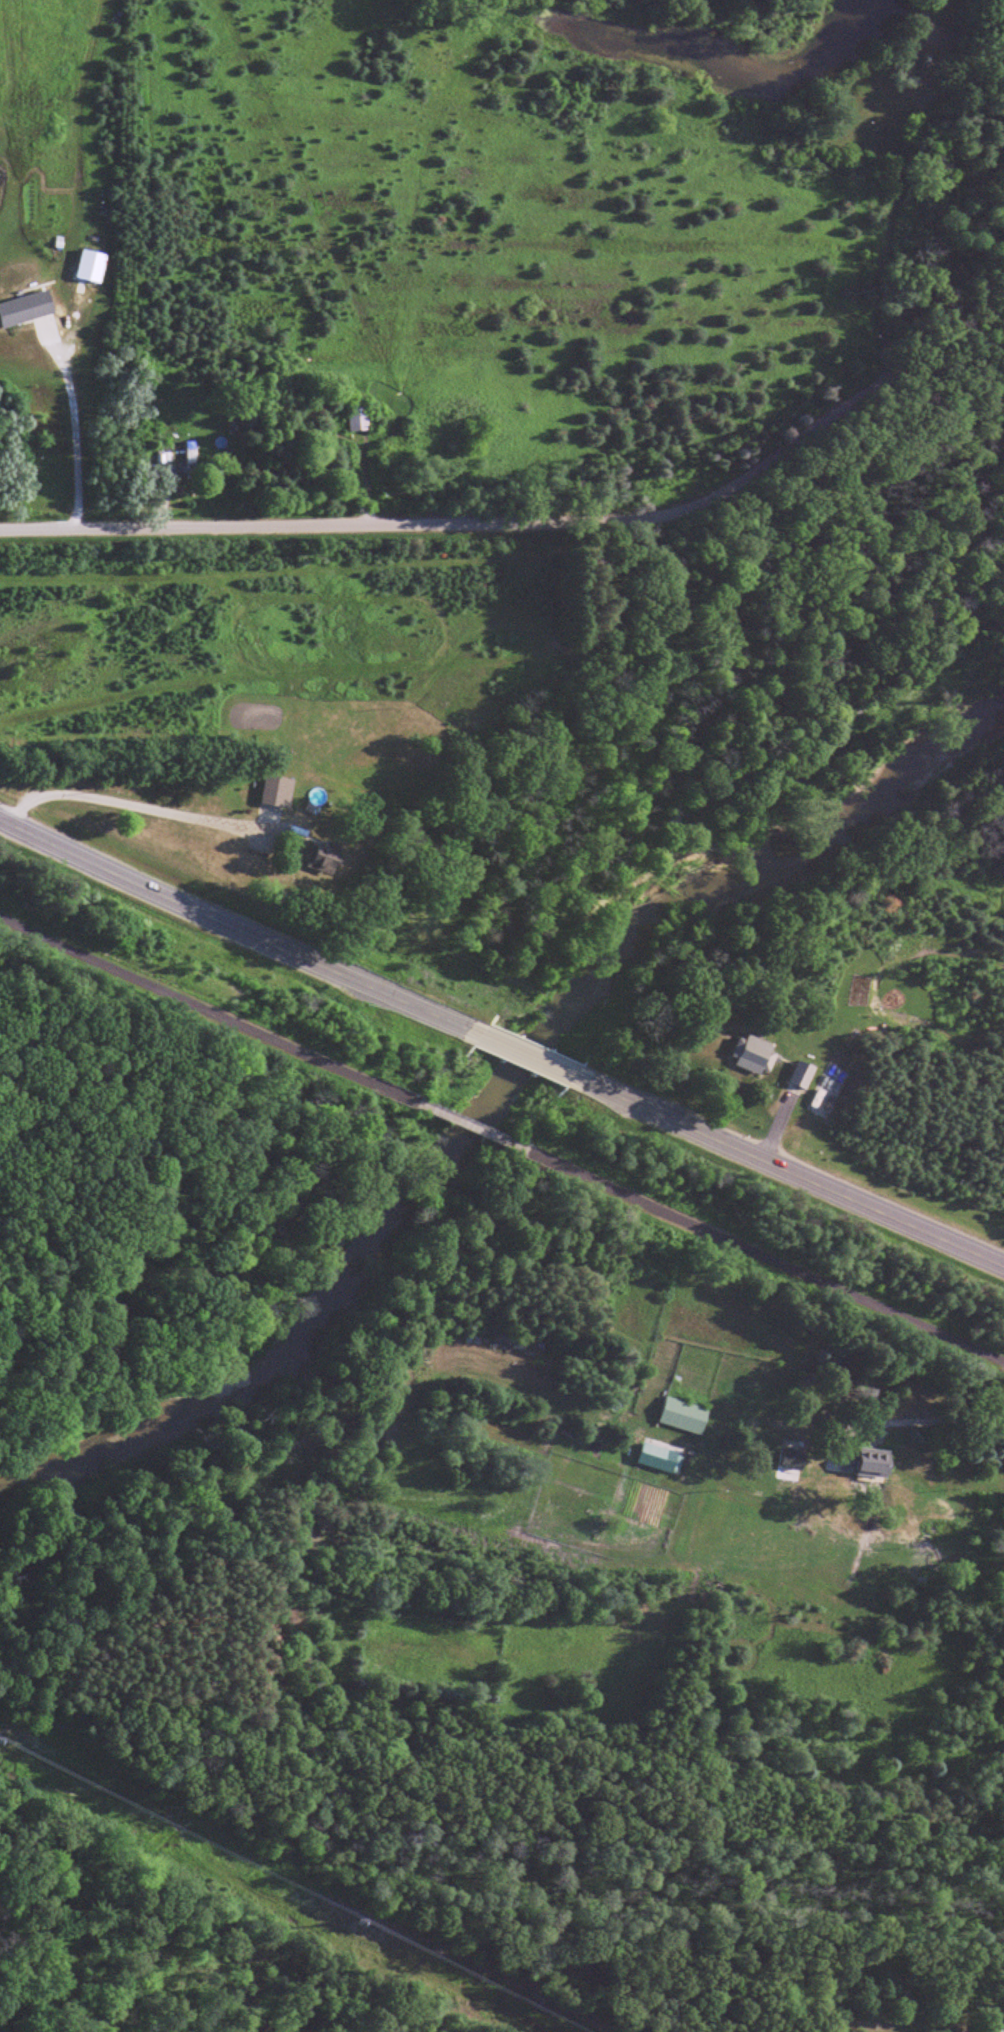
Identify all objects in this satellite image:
building: (358, 421)
building: (191, 461)
road: (499, 525)
building: (279, 791)
building: (329, 858)
road: (240, 927)
road: (207, 1013)
building: (755, 1055)
road: (534, 1060)
building: (803, 1076)
river: (505, 1106)
road: (472, 1126)
road: (796, 1174)
road: (765, 1257)
building: (685, 1417)
building: (655, 1456)
building: (840, 1460)
building: (794, 1462)
building: (876, 1464)
power tower: (350, 1915)

